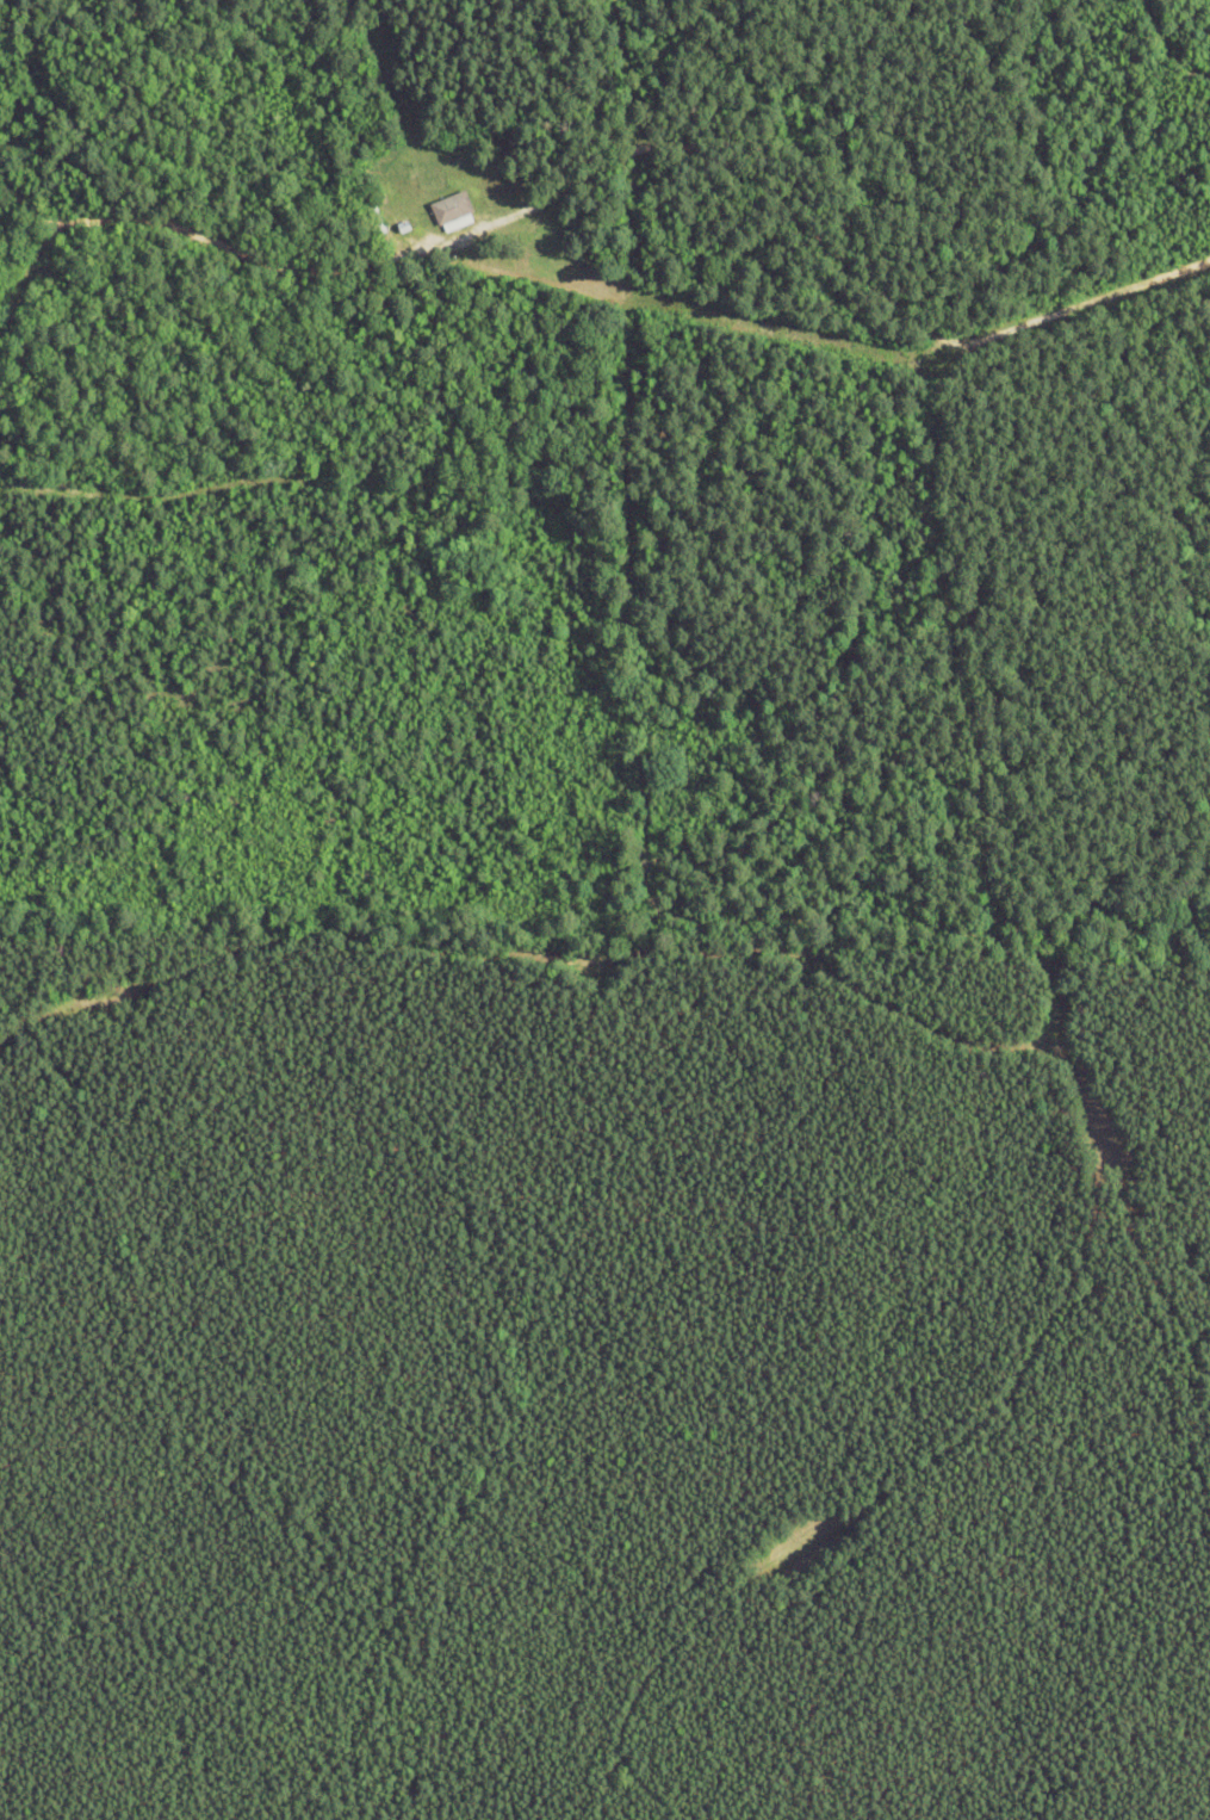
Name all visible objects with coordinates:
road: (694, 147)
building: (448, 210)
road: (191, 228)
road: (772, 803)

